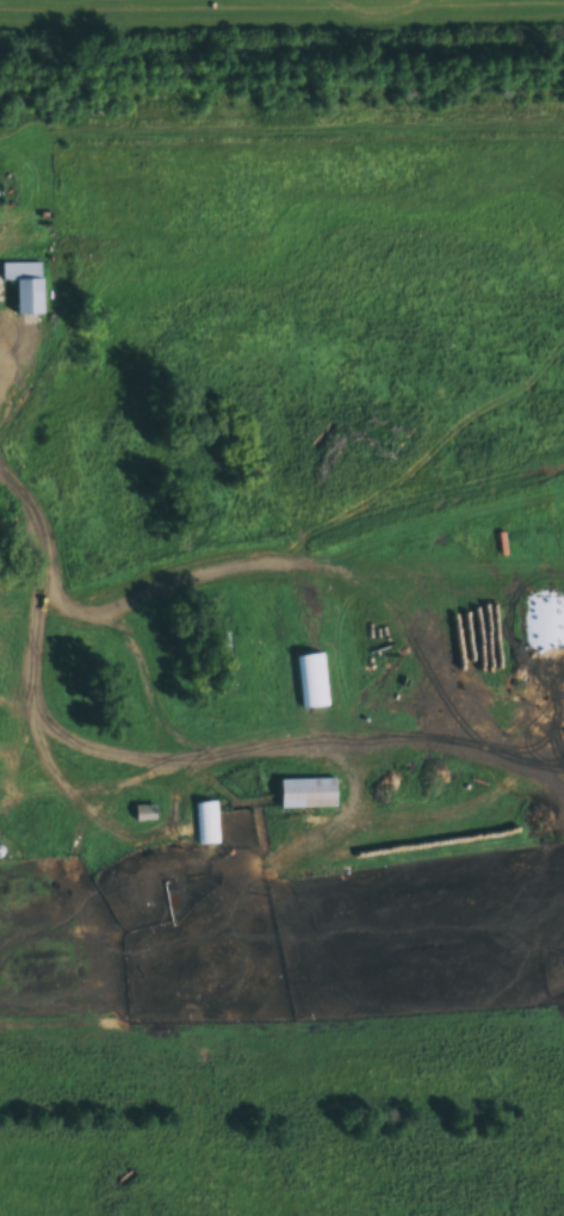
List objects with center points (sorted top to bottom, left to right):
building: (25, 286)
building: (10, 590)
building: (308, 796)
building: (144, 815)
building: (206, 825)
building: (179, 903)

